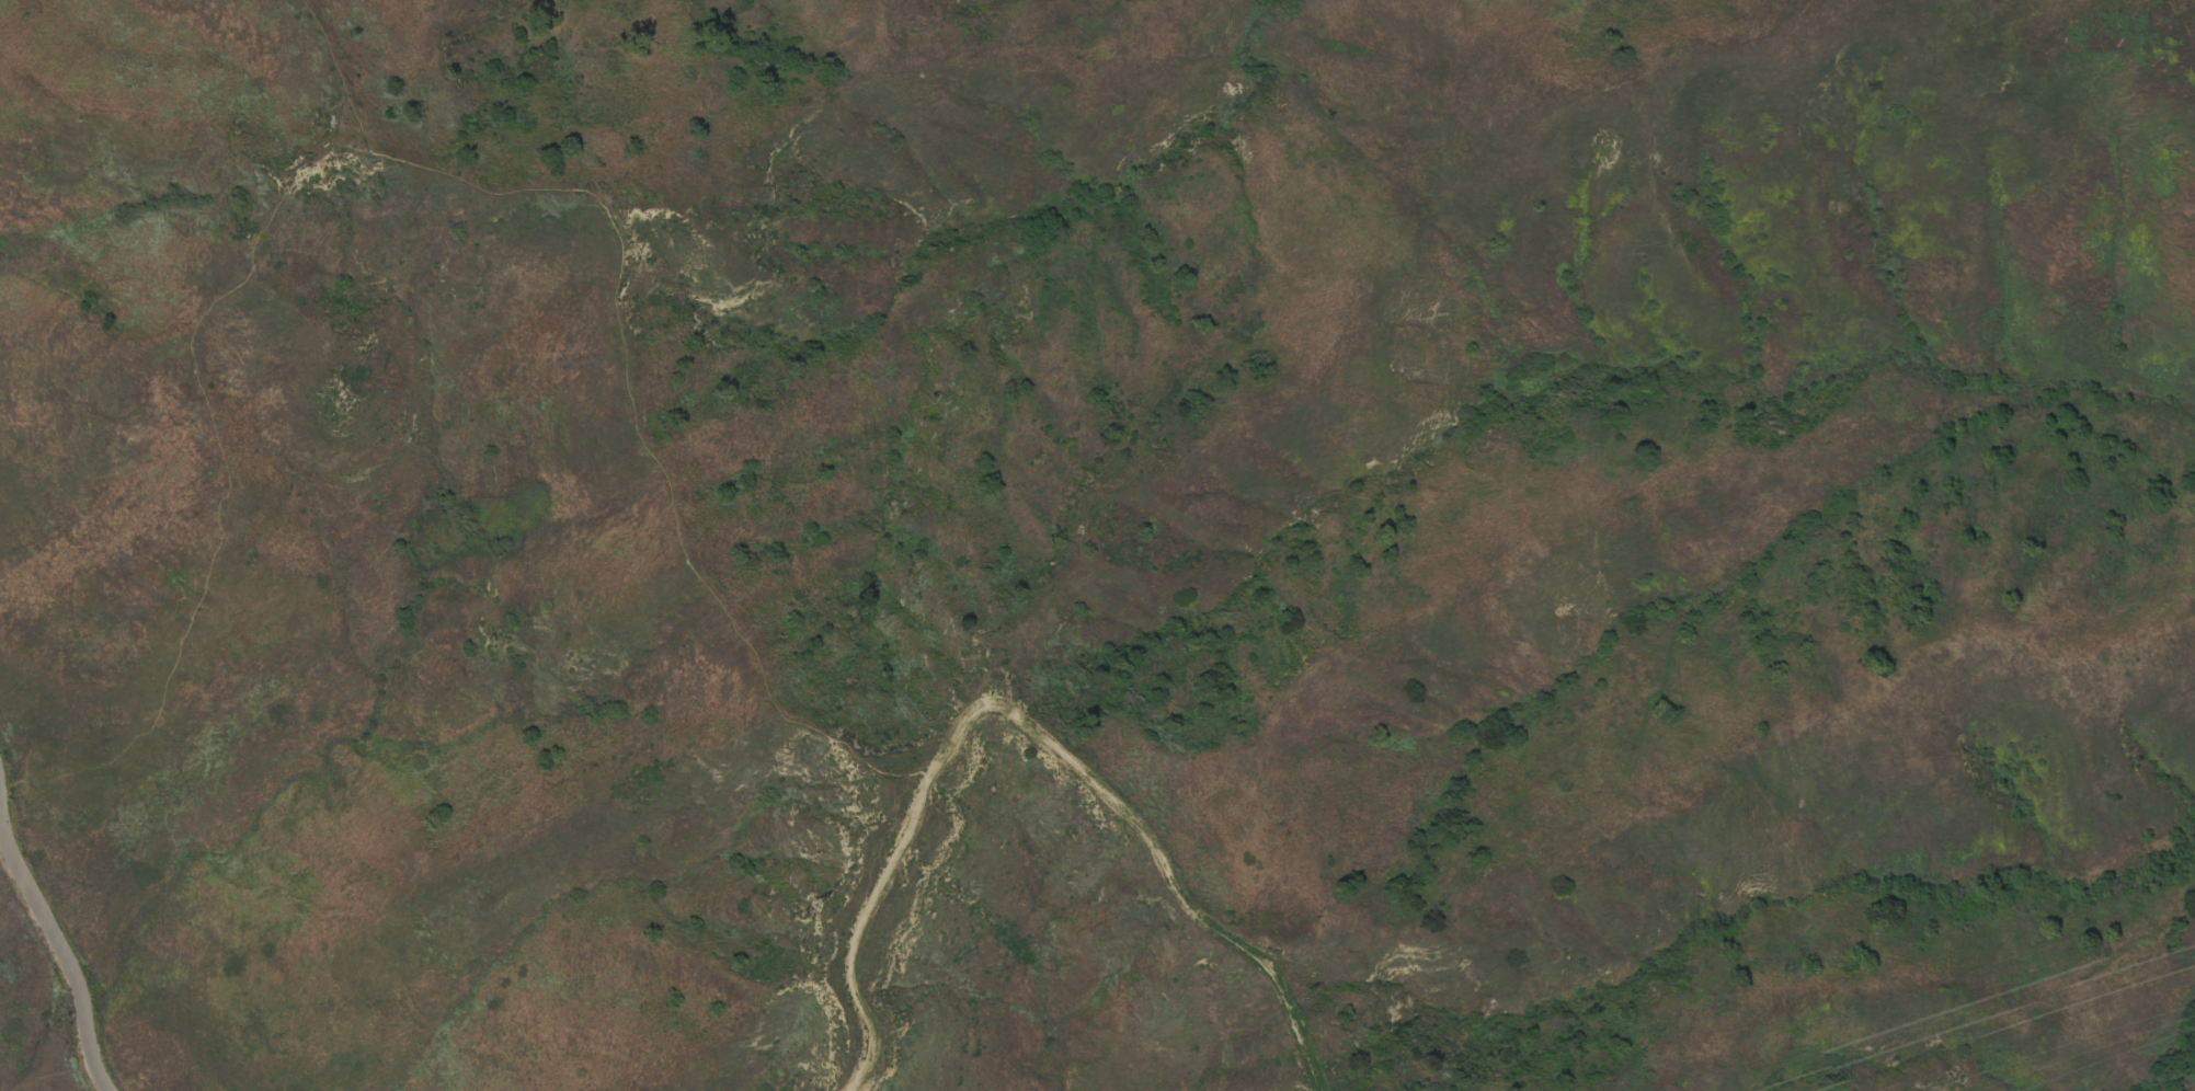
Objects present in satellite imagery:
road: (621, 356)
road: (1025, 727)
road: (479, 843)
road: (60, 953)
road: (2010, 997)

